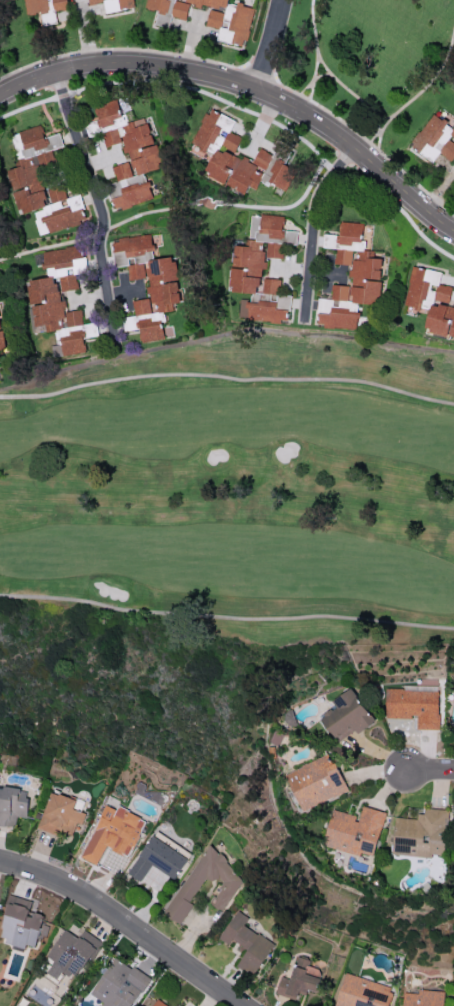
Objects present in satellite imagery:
building: (209, 16)
park: (8, 23)
road: (313, 28)
road: (272, 46)
road: (321, 62)
road: (431, 77)
road: (245, 87)
road: (302, 89)
road: (309, 95)
road: (356, 97)
road: (379, 131)
road: (373, 136)
building: (435, 139)
road: (372, 145)
road: (367, 150)
building: (128, 151)
building: (237, 156)
building: (42, 182)
road: (102, 205)
road: (314, 227)
building: (260, 269)
building: (350, 278)
building: (147, 283)
building: (61, 299)
building: (431, 300)
road: (224, 333)
building: (1, 341)
road: (227, 378)
road: (226, 618)
building: (347, 715)
road: (430, 771)
building: (315, 782)
building: (12, 805)
building: (60, 815)
building: (354, 831)
building: (114, 833)
building: (421, 834)
building: (160, 857)
building: (186, 893)
road: (126, 922)
building: (20, 923)
building: (247, 943)
building: (71, 953)
building: (300, 979)
building: (119, 984)
building: (363, 992)
building: (424, 998)
building: (158, 1003)

